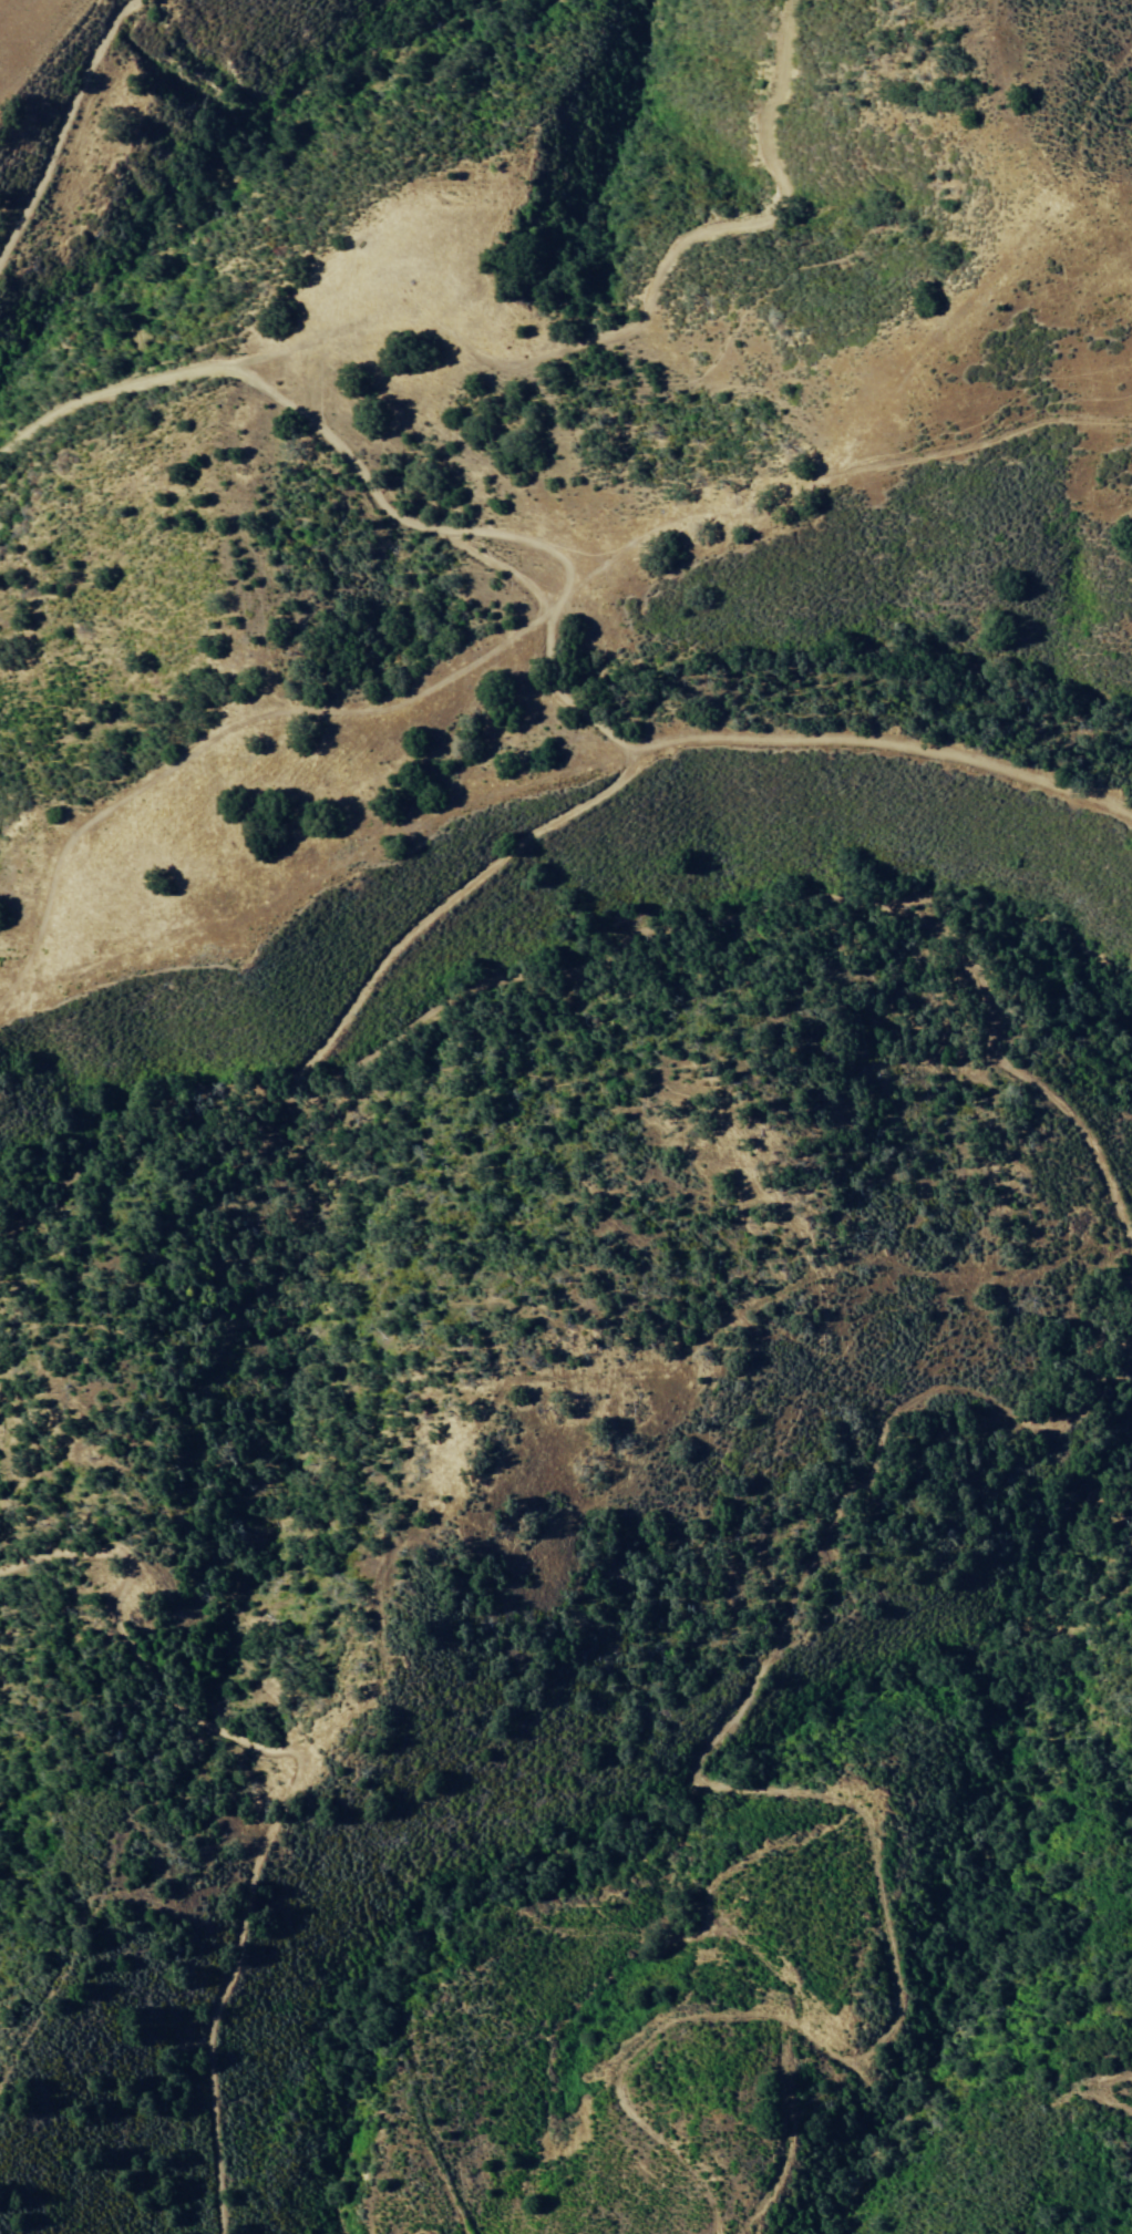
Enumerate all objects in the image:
road: (61, 120)
road: (947, 222)
road: (229, 605)
road: (550, 799)
road: (225, 1853)

